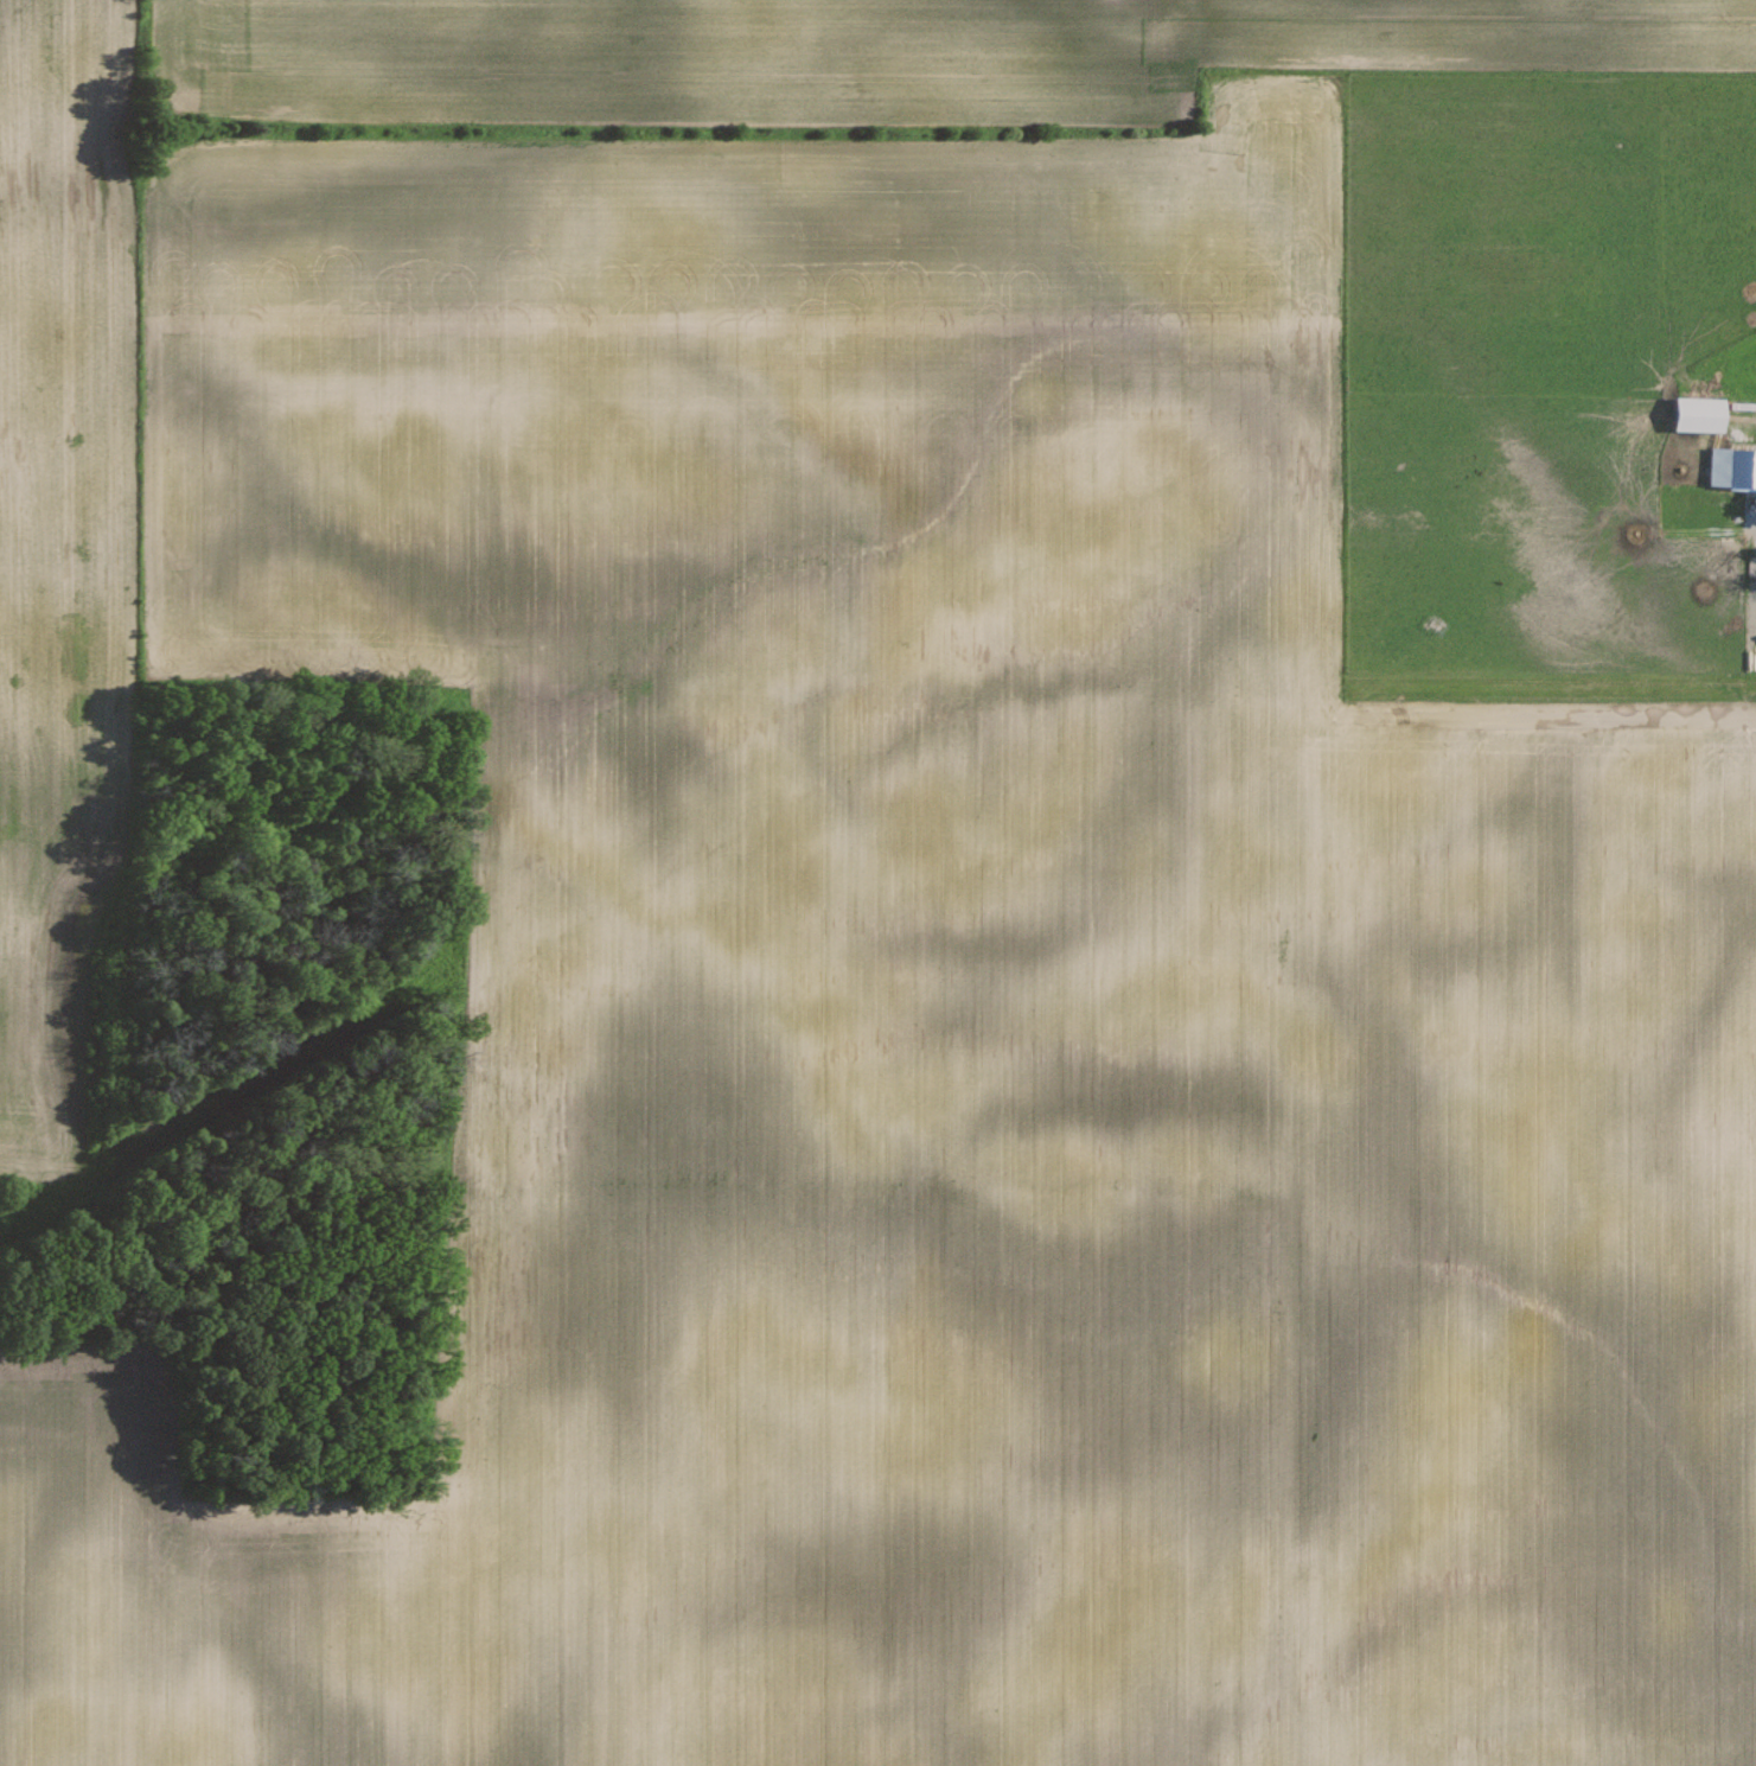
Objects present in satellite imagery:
building: (1687, 414)
building: (1724, 466)

